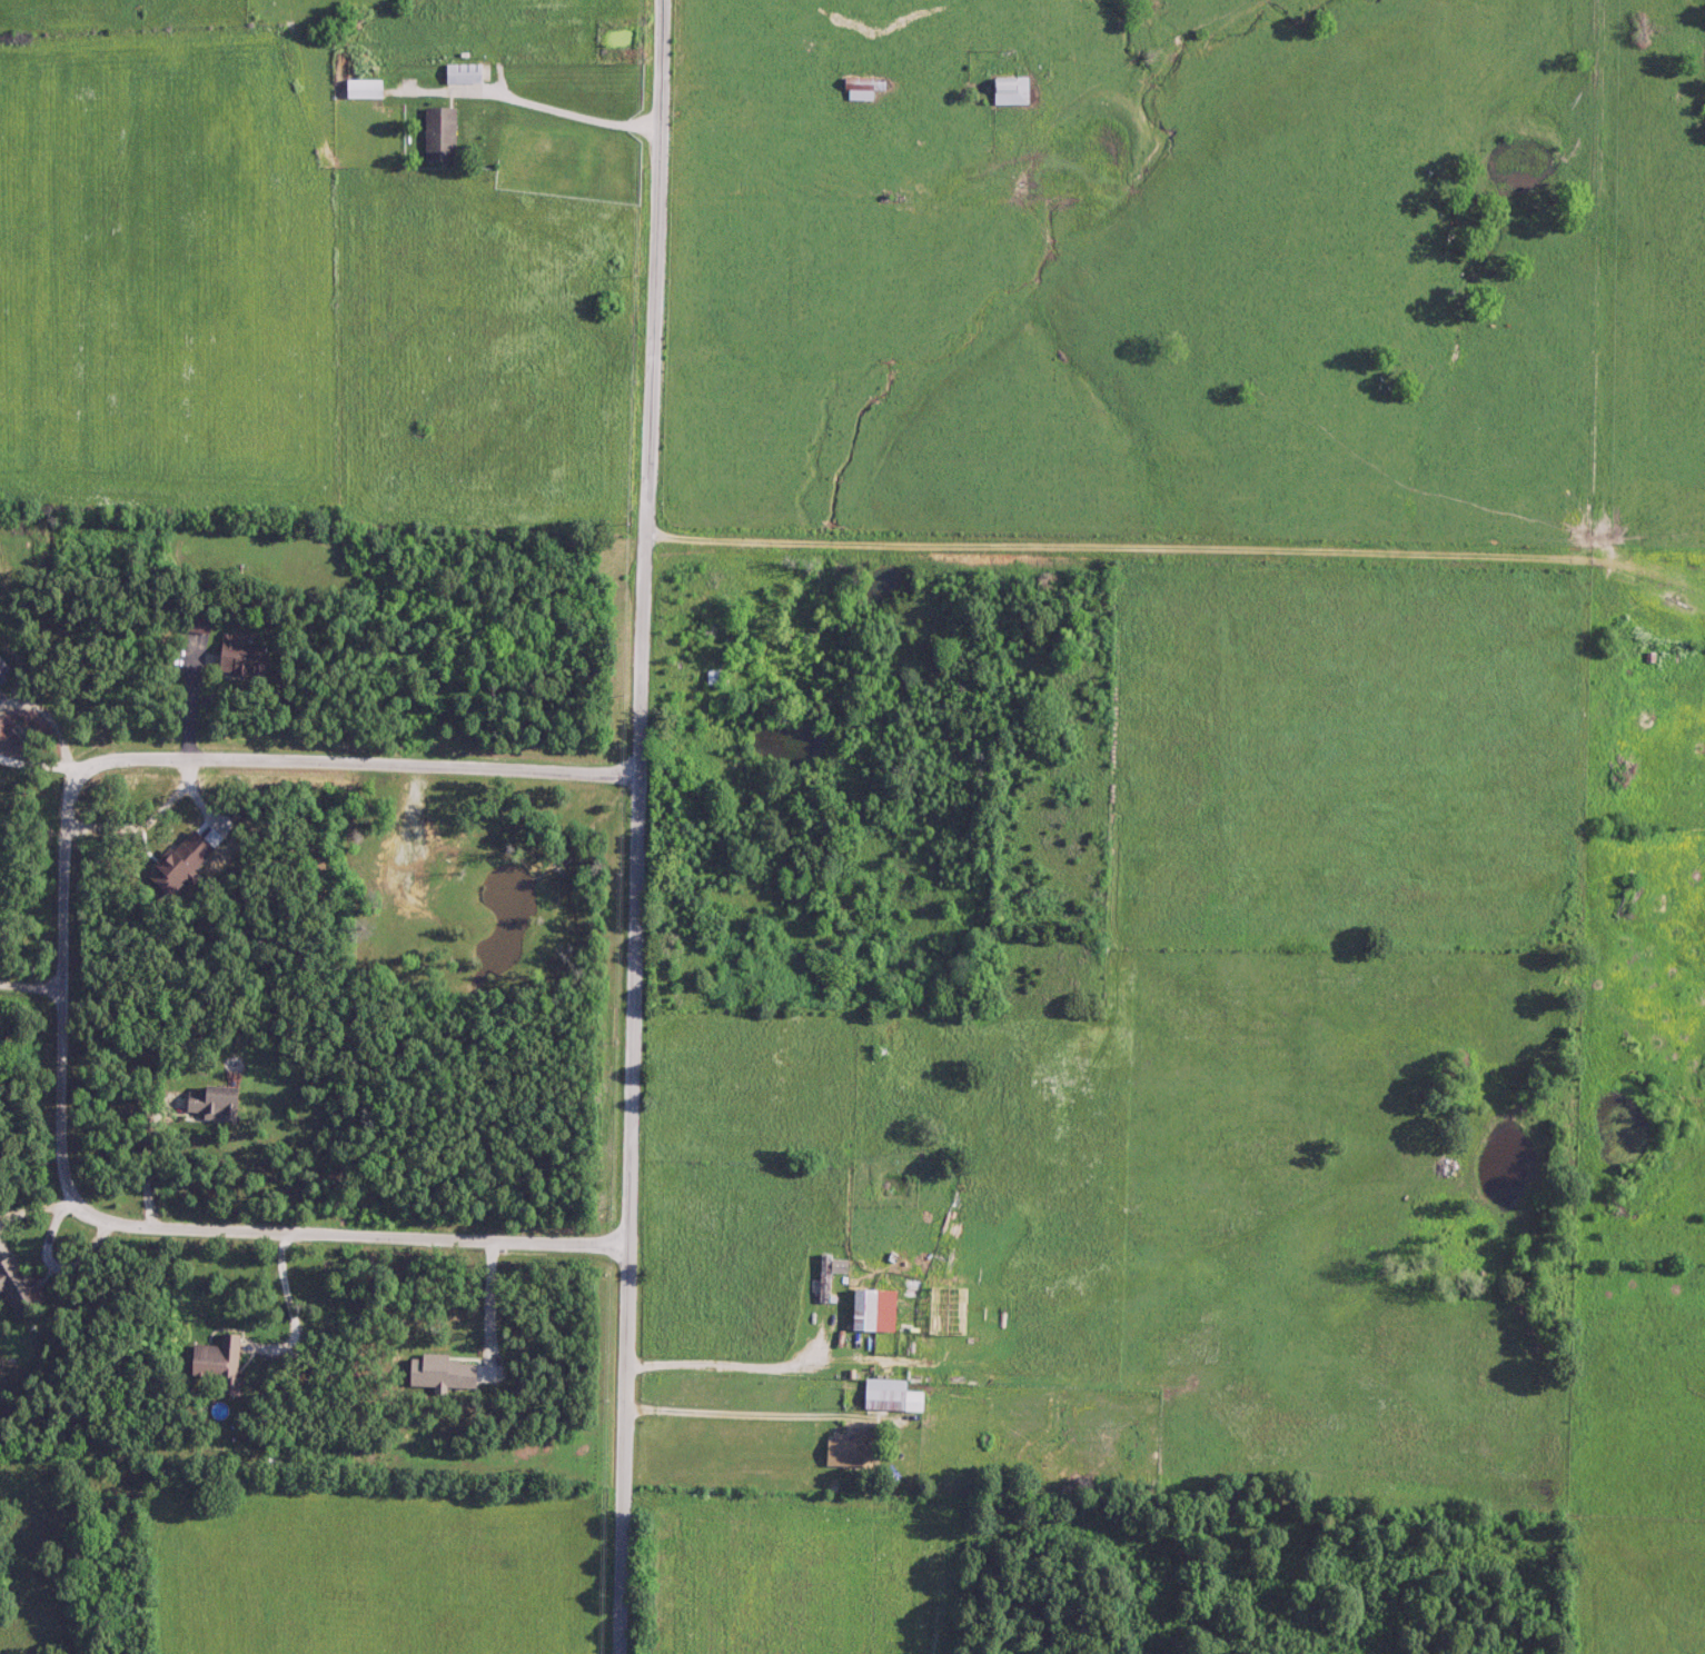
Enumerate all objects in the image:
building: (465, 74)
building: (860, 89)
building: (360, 90)
building: (1005, 91)
road: (528, 108)
building: (436, 136)
road: (1173, 548)
building: (1605, 614)
building: (196, 625)
building: (237, 657)
building: (1, 675)
building: (712, 677)
road: (363, 755)
road: (640, 826)
road: (63, 989)
building: (206, 1103)
road: (363, 1228)
building: (829, 1278)
building: (16, 1285)
road: (495, 1302)
building: (861, 1312)
building: (215, 1363)
road: (755, 1372)
building: (889, 1397)
road: (747, 1421)
building: (847, 1452)

